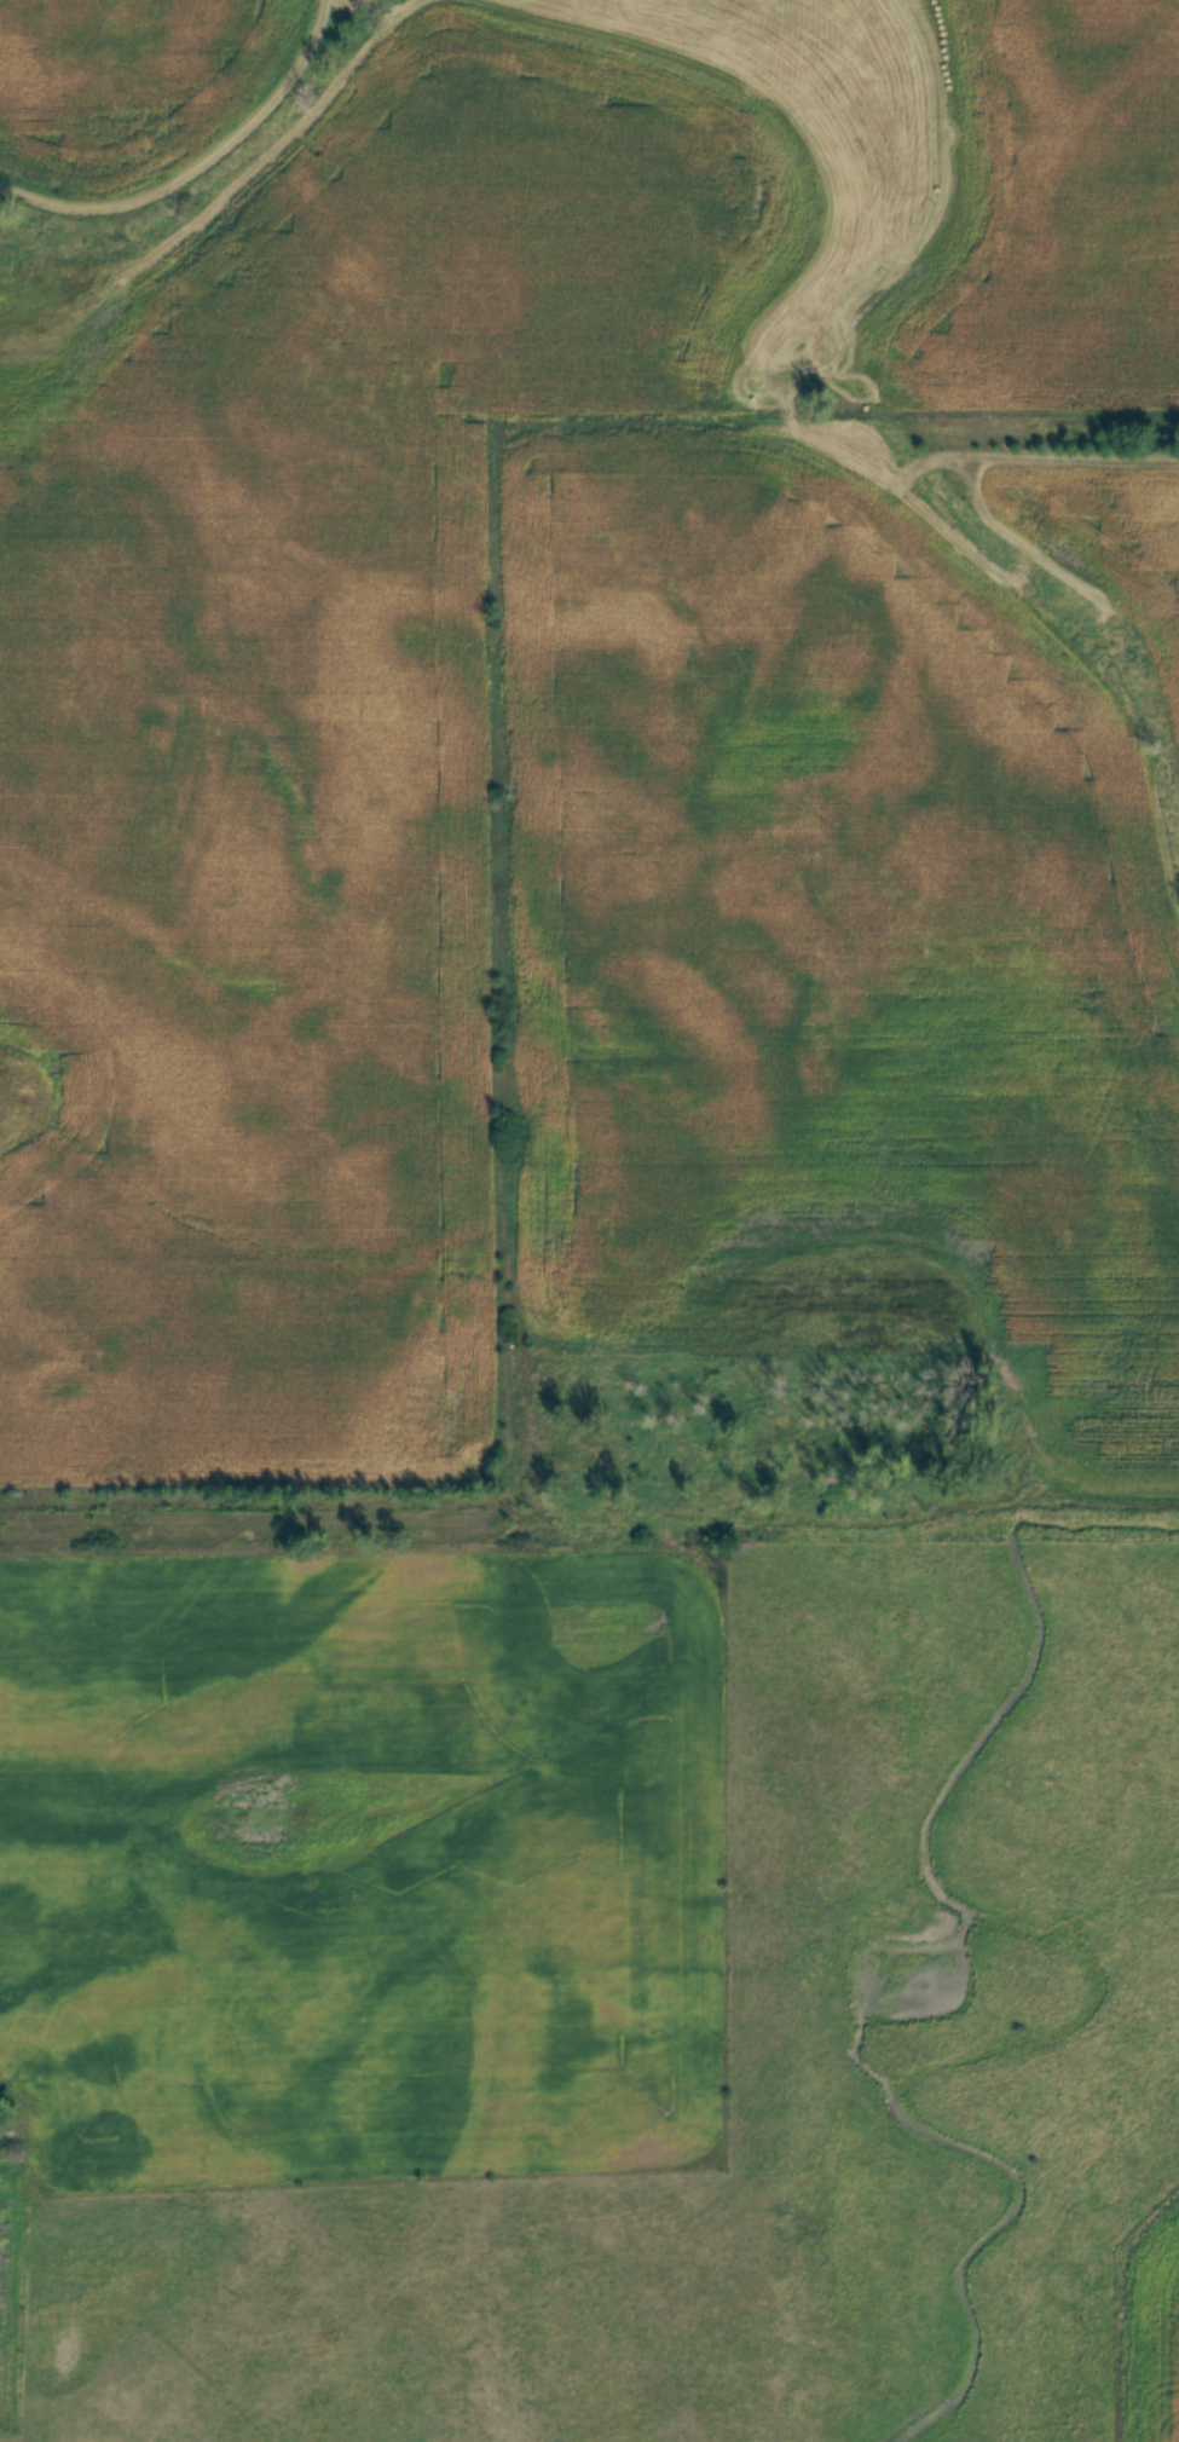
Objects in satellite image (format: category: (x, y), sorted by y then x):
crop: (408, 591)
crop: (861, 924)
crop: (360, 1870)

